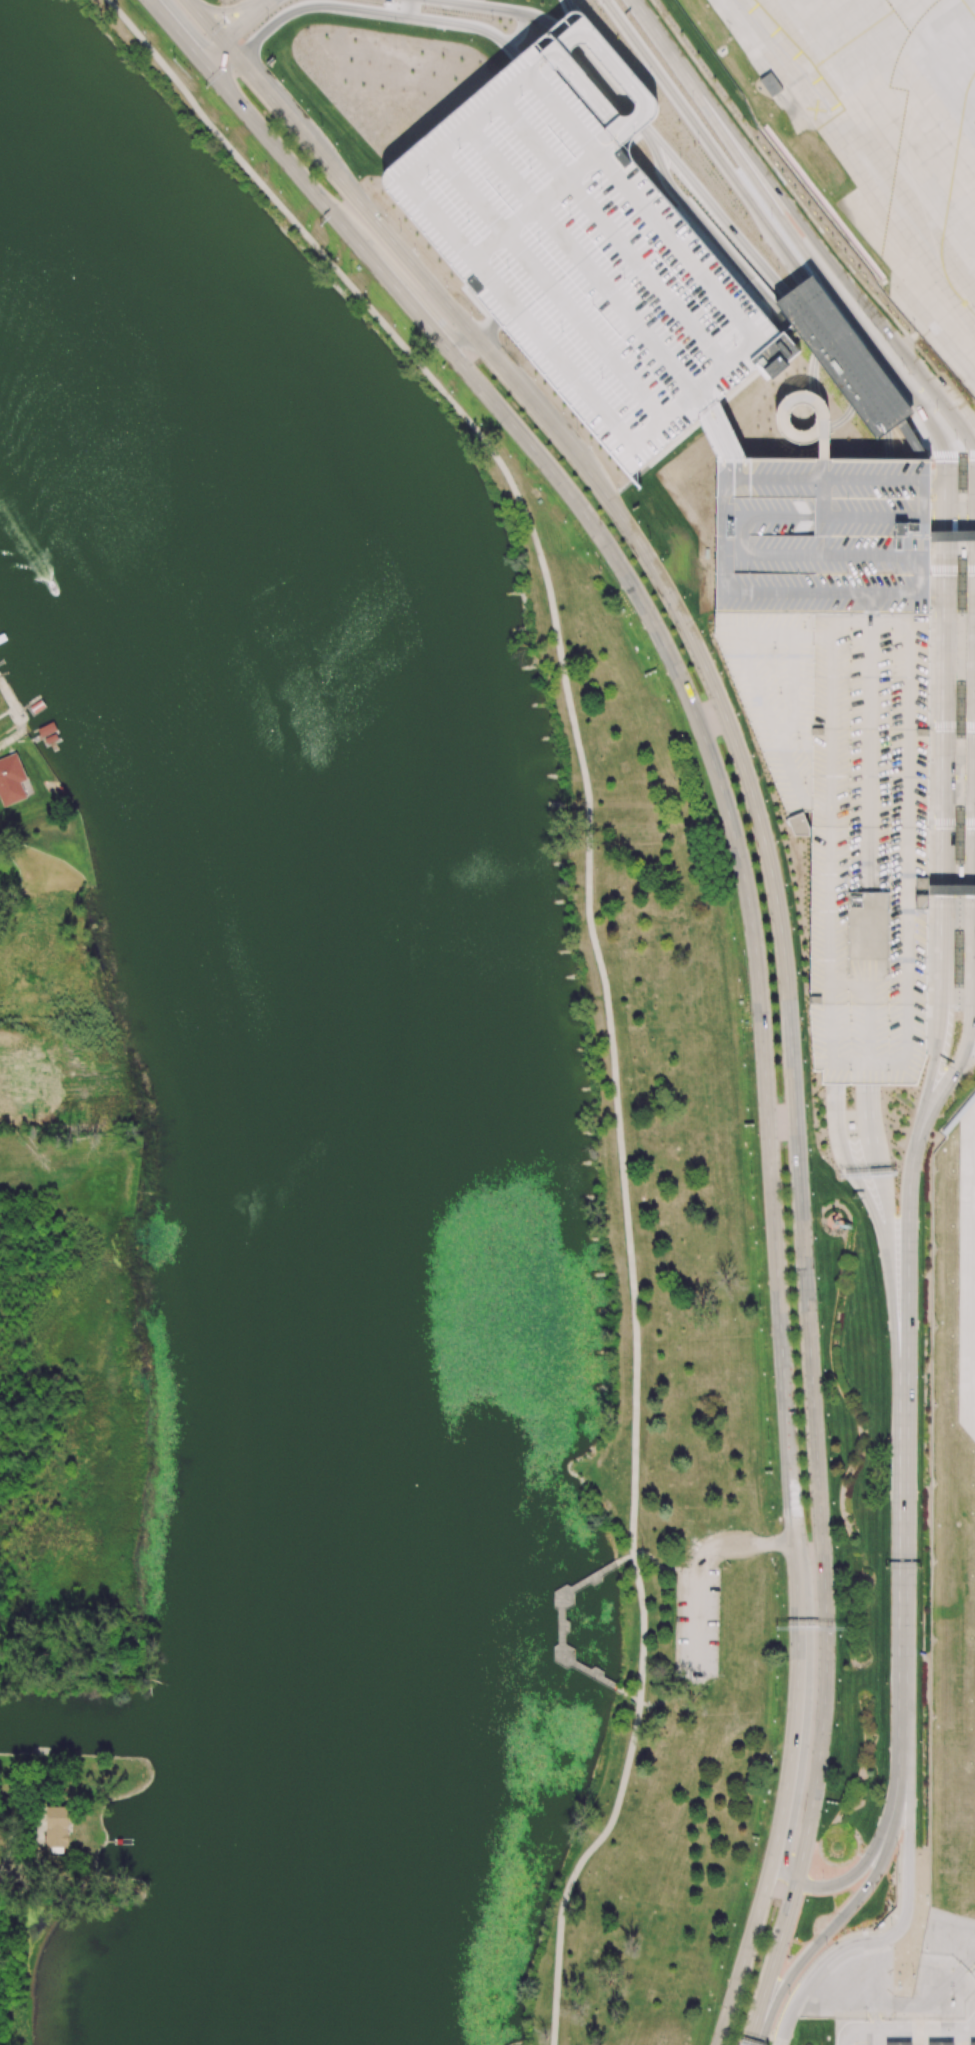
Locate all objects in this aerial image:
building: (386, 0)
building: (403, 0)
building: (386, 2)
street lamp: (550, 5)
street lamp: (425, 7)
road: (567, 7)
road: (501, 8)
airport taxiway: (968, 9)
road: (374, 11)
road: (225, 12)
street lamp: (658, 16)
street lamp: (267, 17)
street lamp: (492, 20)
street lamp: (223, 24)
road: (211, 27)
road: (655, 30)
road: (236, 31)
road: (521, 31)
road: (179, 33)
traffic signals: (234, 34)
road: (567, 35)
traffic signals: (196, 53)
road: (758, 56)
street lamp: (172, 58)
street lamp: (271, 58)
road: (221, 61)
traffic signals: (242, 64)
building: (572, 73)
road: (604, 77)
building: (769, 85)
road: (272, 98)
street lamp: (693, 99)
road: (638, 117)
road: (691, 119)
street lamp: (322, 124)
road: (733, 134)
airport apron: (888, 137)
street lamp: (699, 143)
street lamp: (753, 146)
road: (281, 152)
street lamp: (681, 156)
road: (662, 169)
street lamp: (266, 173)
airport taxiway: (946, 197)
street lamp: (794, 200)
street lamp: (736, 210)
road: (719, 213)
road: (807, 213)
street lamp: (772, 216)
street lamp: (401, 230)
road: (392, 240)
road: (800, 243)
road: (319, 251)
building: (581, 260)
parking lot: (581, 260)
road: (792, 263)
road: (735, 264)
street lamp: (779, 269)
street lamp: (351, 272)
road: (842, 273)
street lamp: (850, 274)
road: (395, 287)
street lamp: (860, 308)
road: (487, 328)
road: (456, 340)
street lamp: (885, 340)
road: (910, 340)
street lamp: (506, 343)
building: (779, 349)
road: (811, 357)
building: (849, 359)
street lamp: (924, 360)
street lamp: (904, 365)
street lamp: (437, 373)
road: (928, 379)
road: (531, 403)
street lamp: (938, 409)
road: (925, 413)
road: (825, 418)
street lamp: (578, 427)
road: (969, 432)
road: (816, 433)
building: (720, 434)
road: (915, 435)
street lamp: (957, 438)
building: (917, 439)
road: (890, 445)
street lamp: (966, 449)
road: (950, 453)
road: (926, 456)
road: (825, 470)
street lamp: (527, 472)
building: (965, 473)
road: (775, 480)
road: (875, 481)
road: (824, 499)
road: (925, 500)
road: (779, 517)
road: (874, 518)
road: (953, 533)
road: (724, 536)
road: (744, 536)
street lamp: (651, 538)
building: (965, 552)
road: (833, 556)
street lamp: (598, 572)
road: (922, 575)
building: (964, 584)
road: (799, 593)
road: (898, 594)
road: (952, 599)
road: (874, 609)
road: (854, 624)
road: (893, 624)
street lamp: (713, 651)
road: (561, 655)
street lamp: (660, 675)
airport: (782, 709)
building: (963, 710)
road: (952, 724)
building: (842, 726)
parking lot: (842, 726)
road: (942, 729)
road: (872, 759)
street lamp: (760, 778)
building: (11, 780)
street lamp: (702, 793)
road: (560, 805)
road: (579, 805)
road: (952, 822)
building: (962, 837)
road: (909, 861)
road: (832, 862)
building: (962, 872)
road: (951, 891)
road: (951, 895)
road: (972, 902)
street lamp: (794, 903)
street lamp: (731, 914)
road: (750, 916)
building: (961, 963)
road: (871, 1007)
street lamp: (804, 1039)
street lamp: (741, 1042)
road: (970, 1049)
road: (933, 1079)
road: (933, 1108)
road: (836, 1118)
road: (869, 1120)
building: (853, 1126)
park: (377, 1137)
road: (797, 1153)
street lamp: (815, 1170)
street lamp: (751, 1173)
road: (624, 1178)
road: (869, 1203)
road: (886, 1206)
street lamp: (935, 1248)
road: (907, 1264)
airport apron: (966, 1271)
street lamp: (921, 1275)
street lamp: (821, 1300)
park: (23, 1306)
street lamp: (758, 1307)
street lamp: (935, 1326)
street lamp: (884, 1336)
street lamp: (922, 1376)
street lamp: (934, 1406)
street lamp: (831, 1435)
street lamp: (767, 1440)
street lamp: (934, 1483)
road: (879, 1504)
street lamp: (920, 1506)
road: (739, 1545)
road: (627, 1558)
street lamp: (886, 1561)
street lamp: (933, 1561)
road: (655, 1562)
street lamp: (838, 1568)
road: (899, 1568)
street lamp: (775, 1572)
road: (700, 1621)
street lamp: (919, 1623)
road: (677, 1624)
parking lot: (698, 1624)
pier: (563, 1625)
road: (643, 1628)
street lamp: (933, 1639)
street lamp: (885, 1683)
road: (630, 1697)
street lamp: (775, 1699)
road: (664, 1700)
street lamp: (837, 1702)
street lamp: (932, 1717)
road: (794, 1722)
street lamp: (919, 1742)
road: (896, 1792)
street lamp: (760, 1823)
street lamp: (821, 1825)
building: (57, 1826)
street lamp: (896, 1845)
road: (576, 1867)
road: (785, 1868)
road: (840, 1872)
road: (7, 1876)
street lamp: (823, 1877)
road: (848, 1877)
street lamp: (899, 1882)
street lamp: (872, 1892)
street lamp: (890, 1924)
street lamp: (794, 1937)
road: (822, 1940)
street lamp: (825, 1944)
street lamp: (727, 1945)
road: (747, 1950)
street lamp: (787, 1957)
road: (968, 1959)
park: (48, 1963)
road: (773, 1963)
street lamp: (790, 1994)
road: (888, 2004)
road: (874, 2016)
road: (789, 2023)
road: (914, 2029)
road: (963, 2029)
street lamp: (773, 2030)
road: (857, 2030)
parking lot: (923, 2030)
road: (876, 2037)
road: (919, 2037)
road: (961, 2037)
building: (898, 2043)
building: (940, 2043)
building: (972, 2043)

